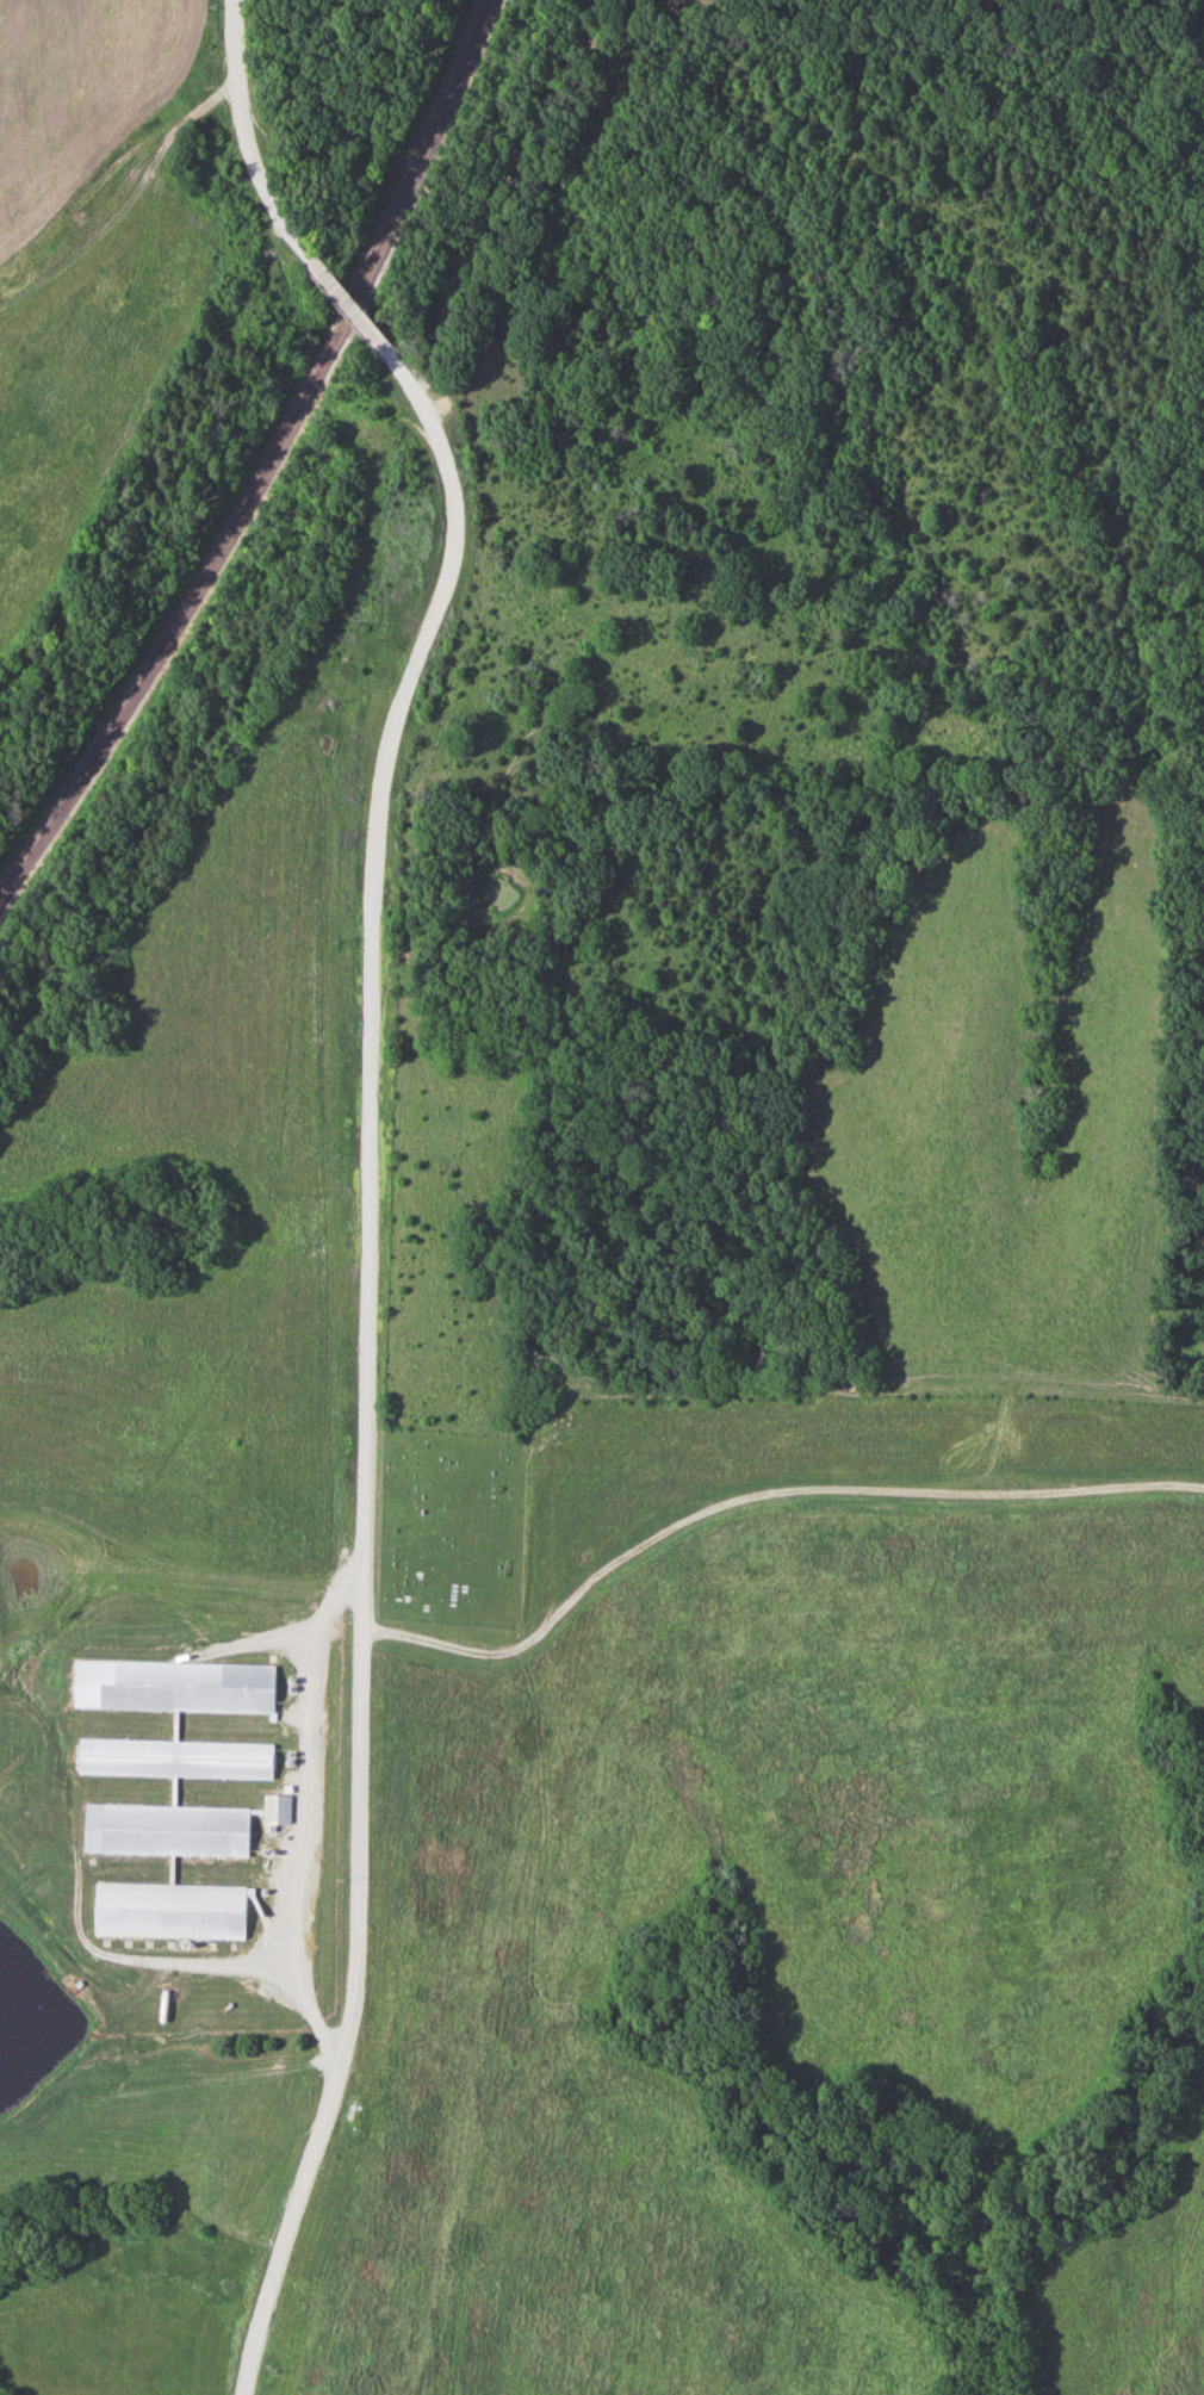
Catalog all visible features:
road: (244, 138)
road: (350, 309)
railway: (266, 463)
road: (362, 1372)
park: (451, 1527)
building: (176, 1686)
building: (176, 1757)
building: (279, 1810)
building: (168, 1829)
building: (173, 1910)

